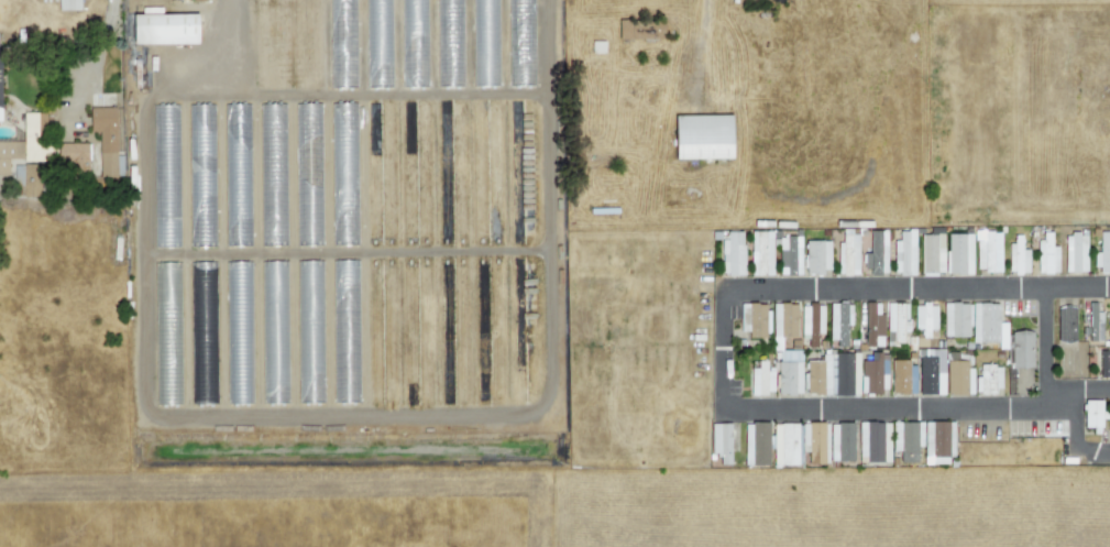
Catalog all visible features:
building: (68, 4)
building: (164, 29)
road: (98, 41)
building: (35, 136)
building: (702, 136)
building: (105, 139)
building: (9, 153)
building: (72, 155)
building: (201, 171)
building: (165, 175)
building: (237, 182)
building: (987, 251)
building: (1075, 252)
building: (732, 253)
building: (760, 253)
building: (876, 253)
building: (903, 253)
building: (958, 253)
building: (1102, 253)
building: (847, 254)
building: (931, 254)
building: (1046, 254)
building: (789, 255)
building: (1018, 255)
building: (816, 256)
building: (1109, 317)
building: (820, 319)
building: (757, 320)
building: (783, 321)
building: (895, 321)
building: (974, 322)
building: (1065, 324)
building: (1093, 324)
building: (872, 325)
building: (805, 329)
building: (309, 333)
building: (274, 335)
building: (238, 343)
road: (1045, 348)
road: (725, 358)
building: (789, 372)
building: (930, 372)
building: (833, 374)
building: (902, 378)
building: (957, 378)
building: (761, 379)
building: (988, 379)
building: (1091, 414)
building: (906, 440)
building: (840, 441)
building: (936, 441)
road: (1077, 442)
building: (722, 444)
building: (782, 444)
crop: (432, 490)

